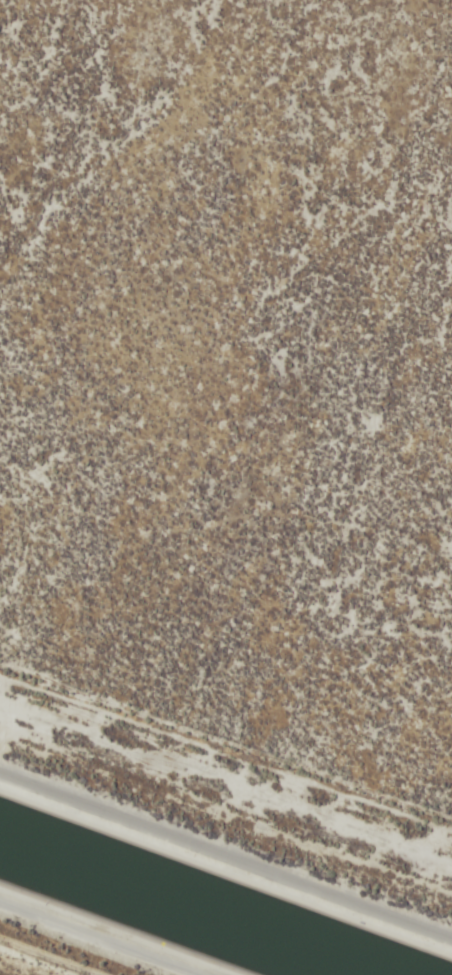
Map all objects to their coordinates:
crop: (234, 385)
road: (226, 860)
road: (23, 966)

